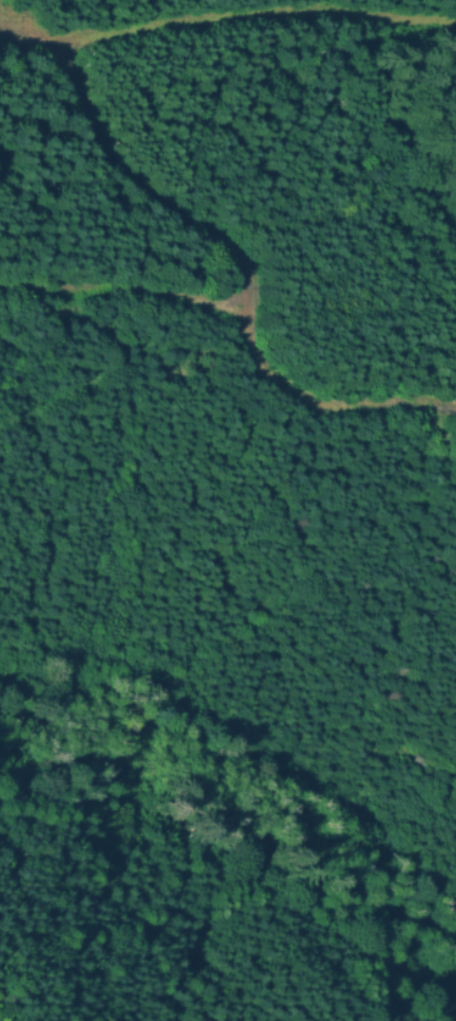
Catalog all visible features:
road: (232, 17)
road: (12, 26)
road: (241, 276)
road: (121, 290)
road: (117, 366)

